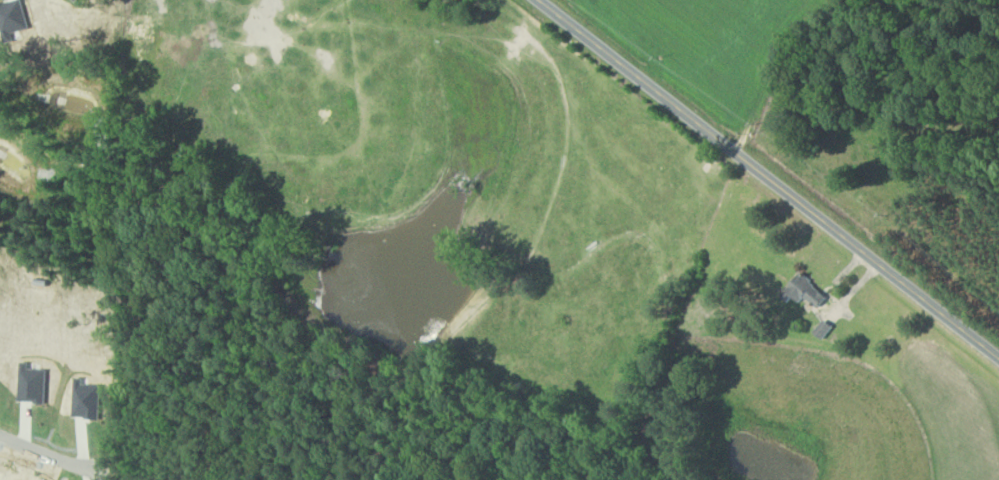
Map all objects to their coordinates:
road: (769, 176)
building: (806, 291)
building: (826, 329)
road: (47, 453)

